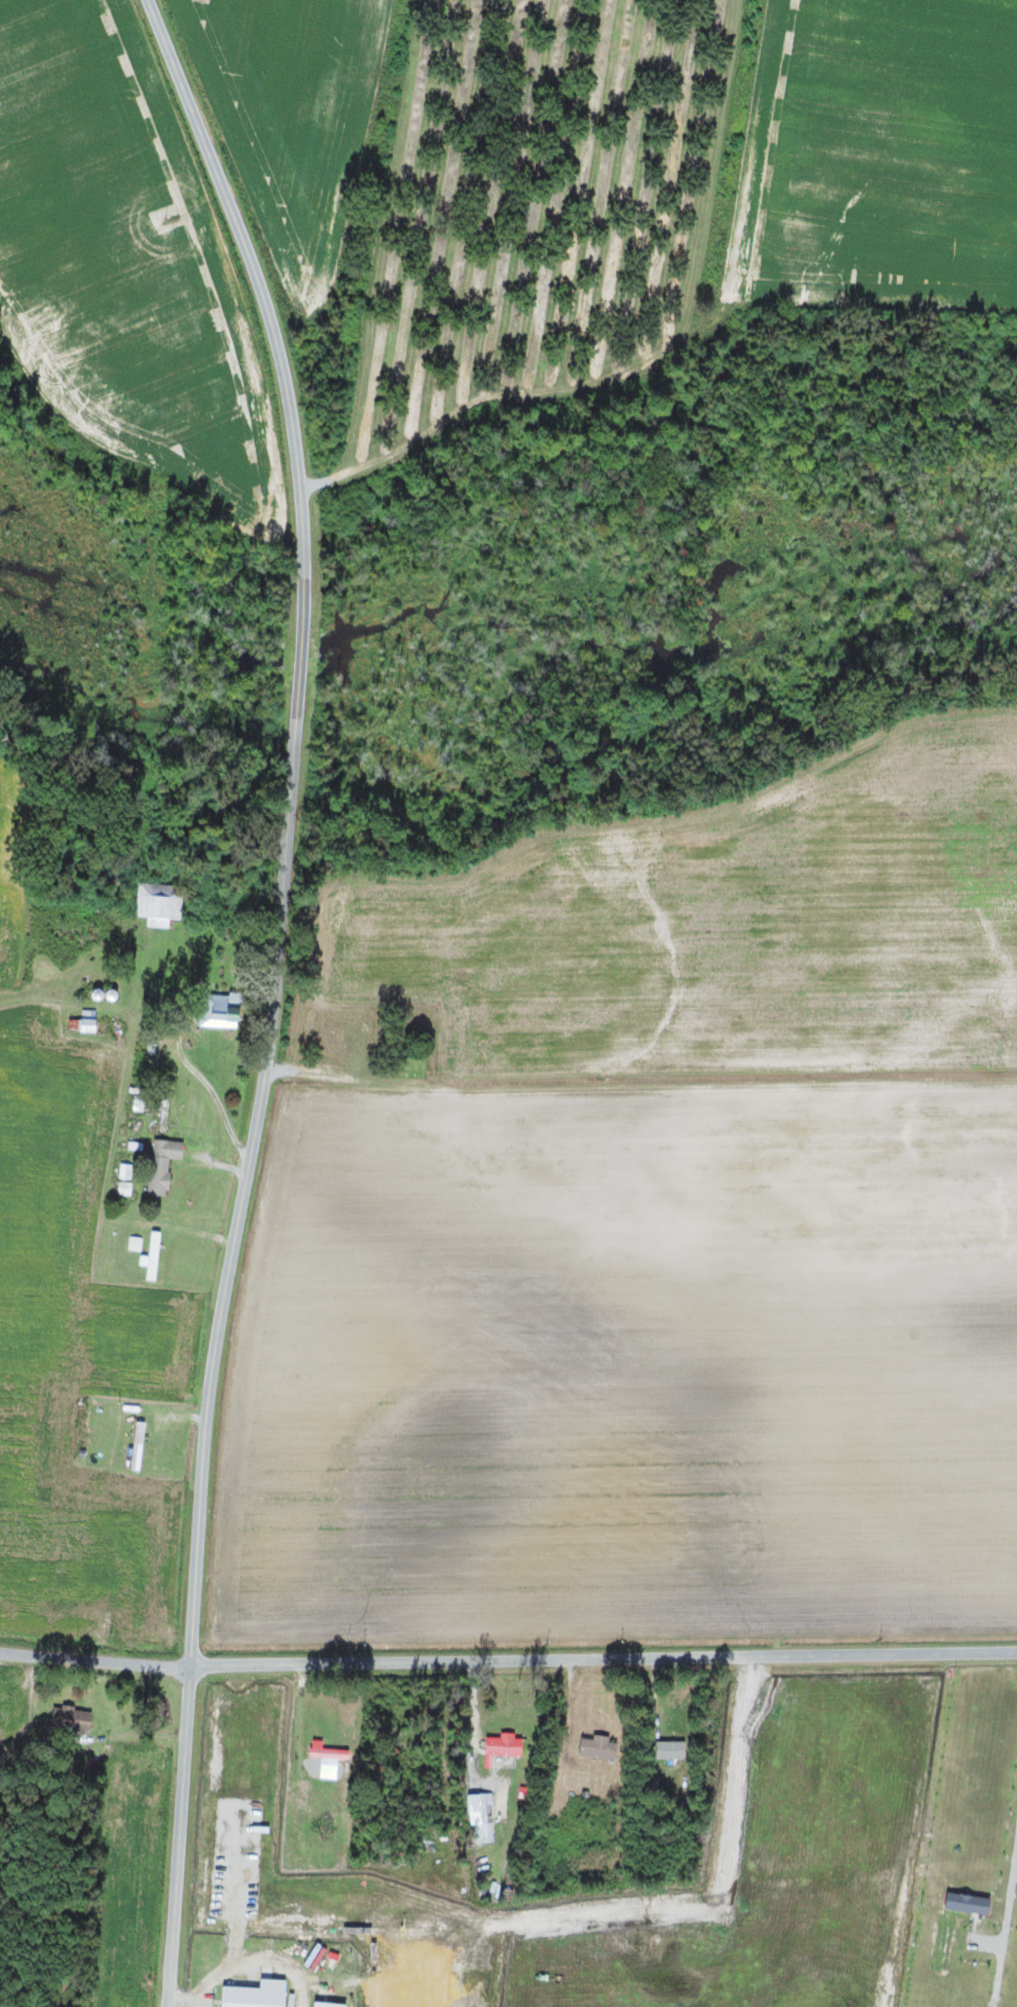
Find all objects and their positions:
road: (660, 357)
building: (159, 902)
road: (272, 994)
building: (221, 1009)
building: (84, 1021)
building: (163, 1164)
building: (125, 1171)
building: (152, 1256)
road: (93, 1658)
road: (602, 1658)
building: (70, 1719)
building: (598, 1747)
building: (502, 1748)
building: (329, 1757)
building: (480, 1818)
building: (969, 1903)
building: (256, 1995)
building: (328, 2005)

